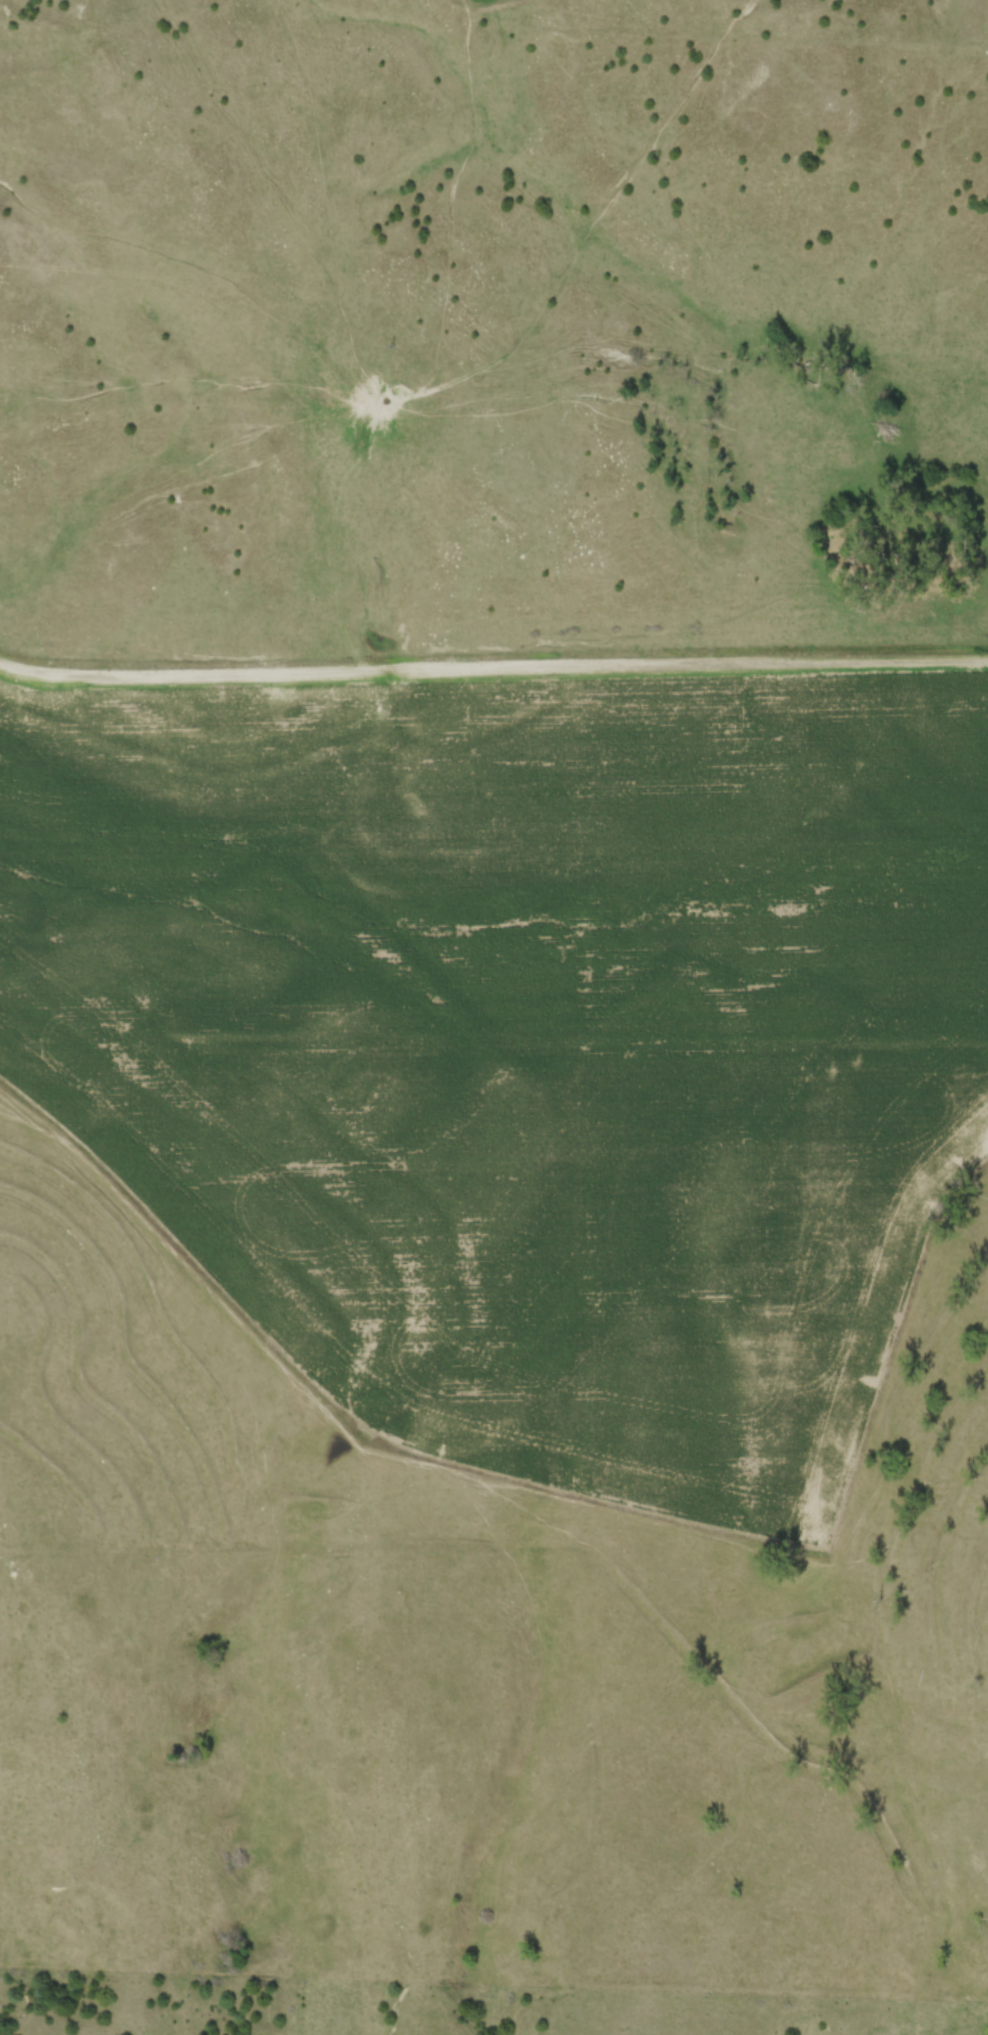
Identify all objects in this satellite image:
road: (493, 664)

